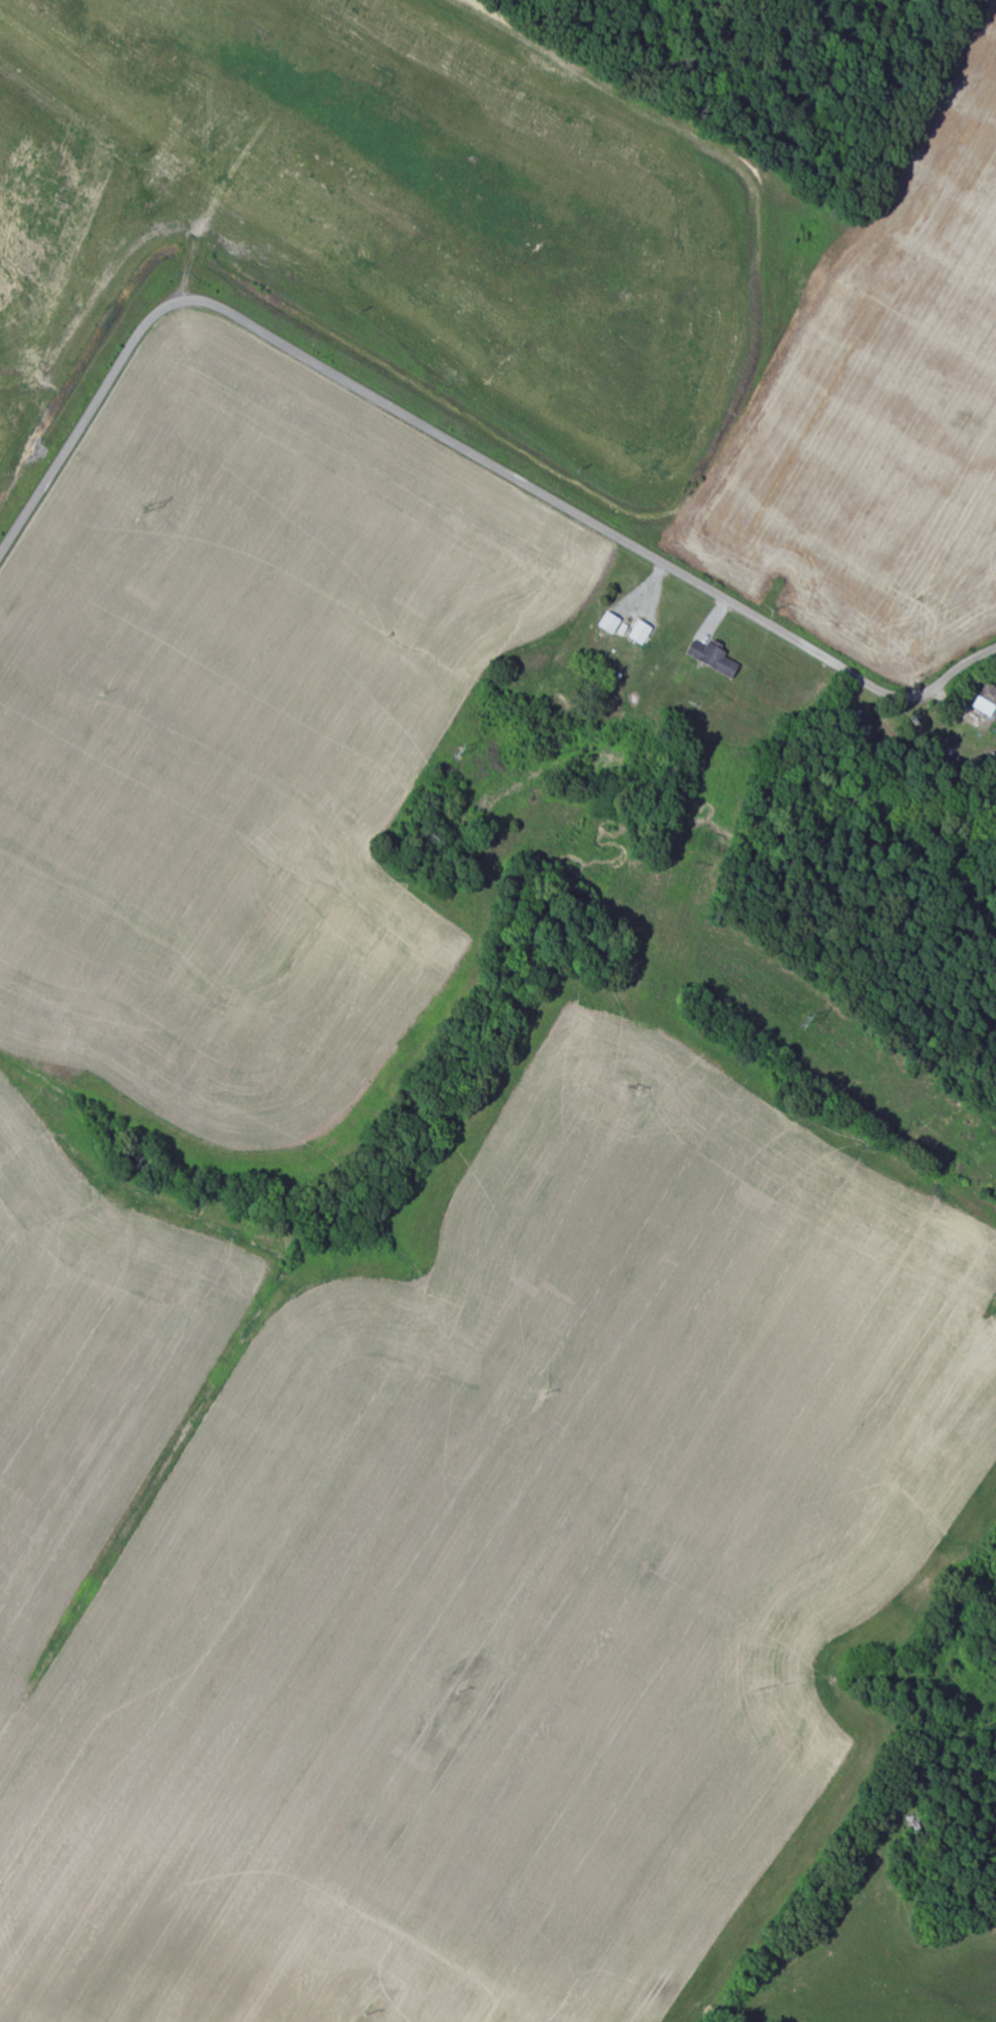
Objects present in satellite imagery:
road: (454, 442)
building: (612, 622)
building: (643, 632)
building: (715, 658)
building: (988, 701)

